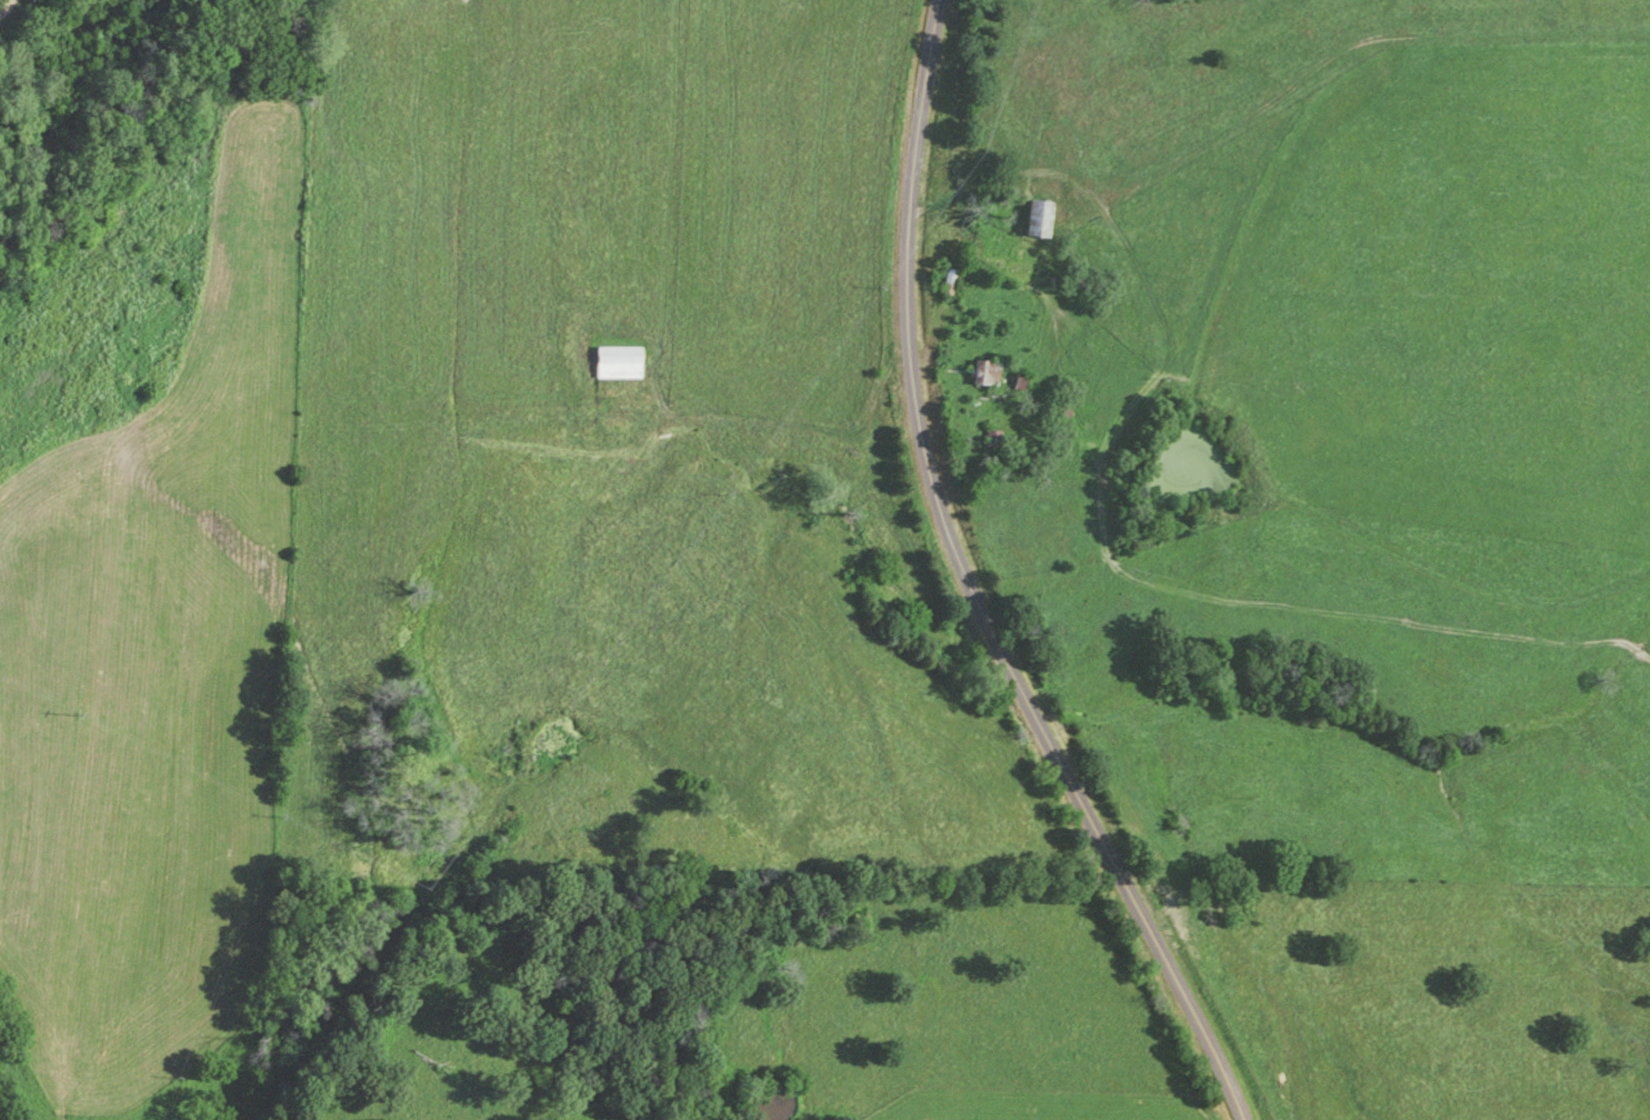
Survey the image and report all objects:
building: (1033, 222)
building: (949, 280)
building: (612, 364)
building: (983, 376)
road: (972, 587)

